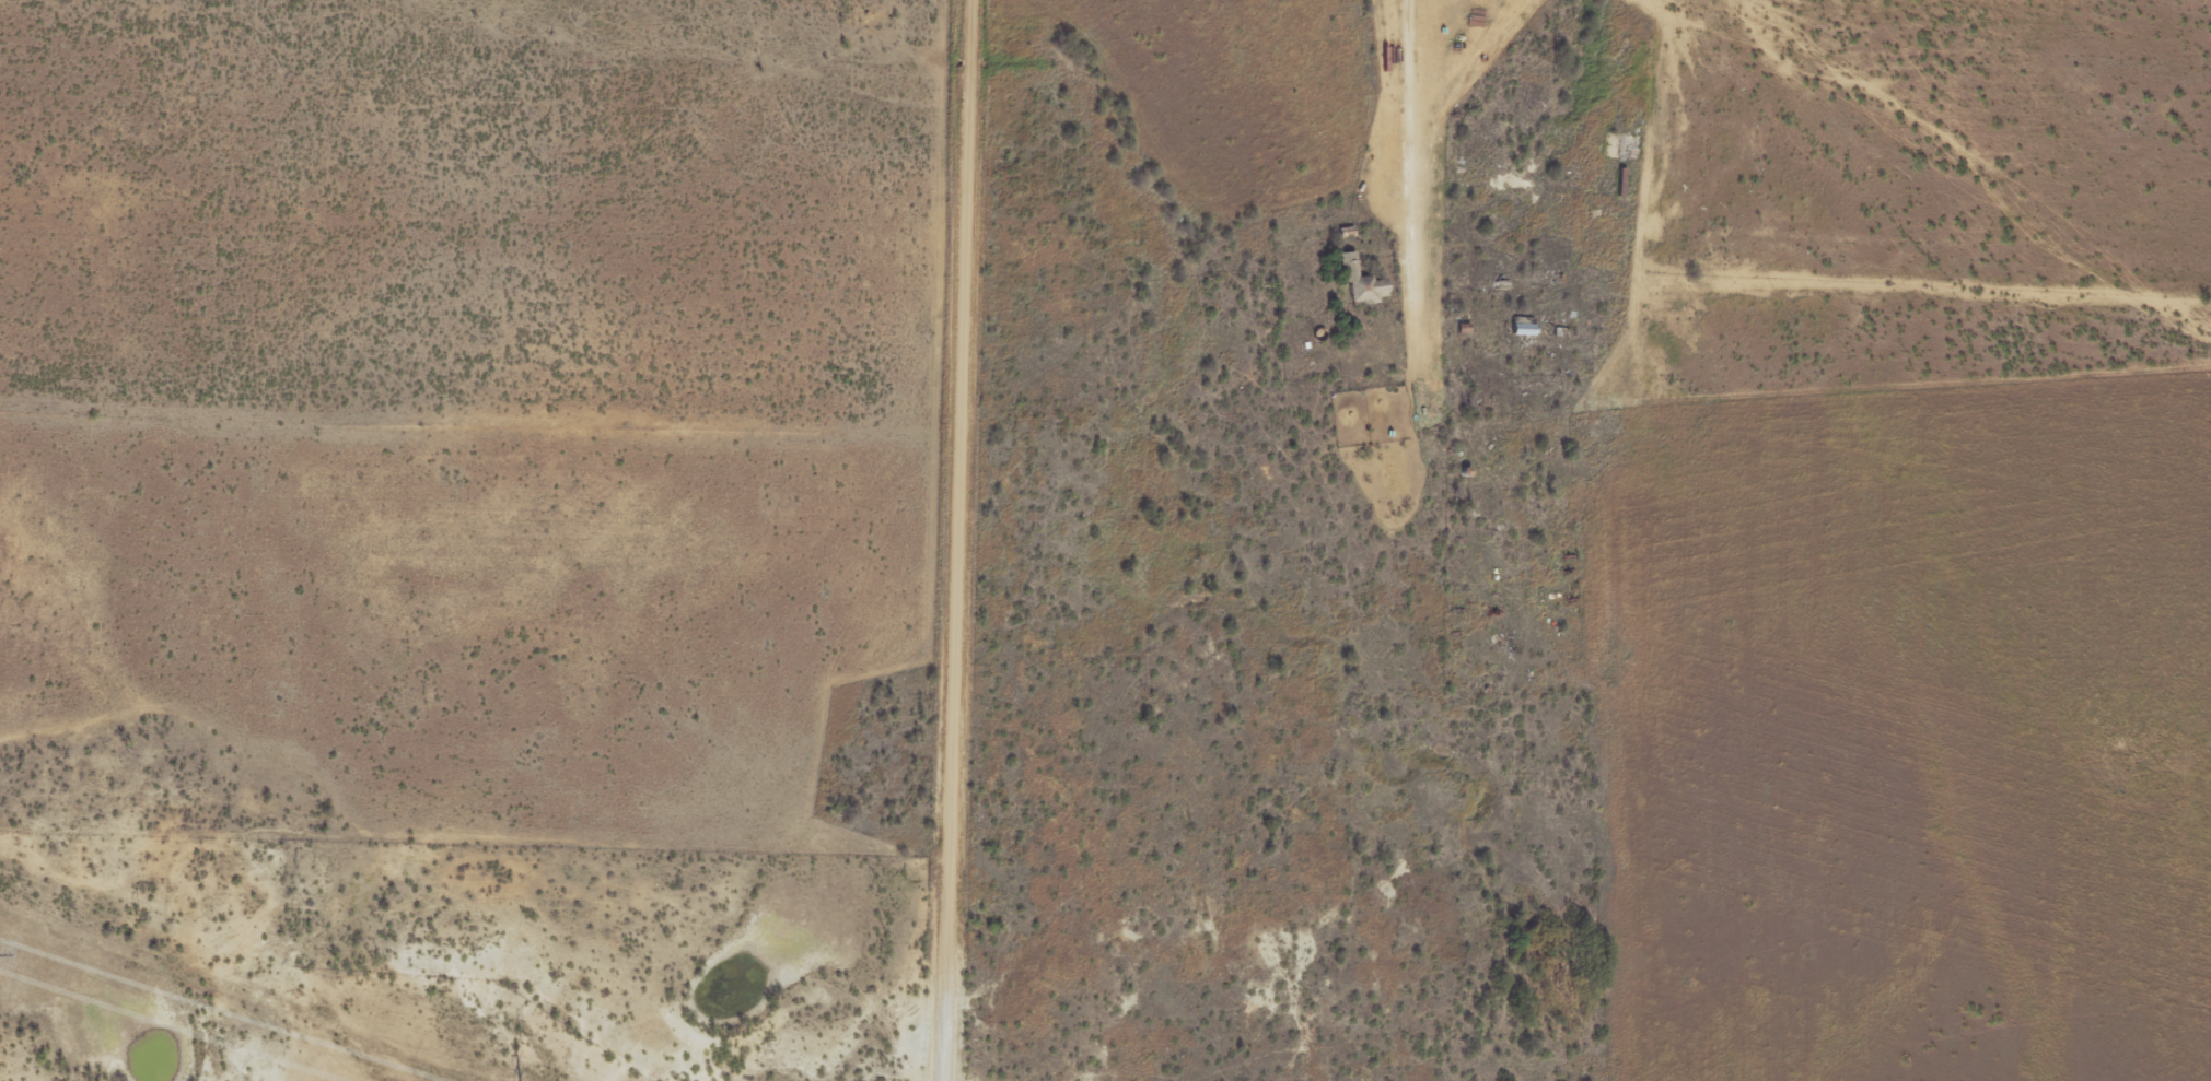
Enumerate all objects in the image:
building: (1628, 148)
road: (1387, 167)
building: (1368, 286)
building: (1528, 328)
road: (961, 540)
power tower: (136, 916)
power tower: (523, 1038)

